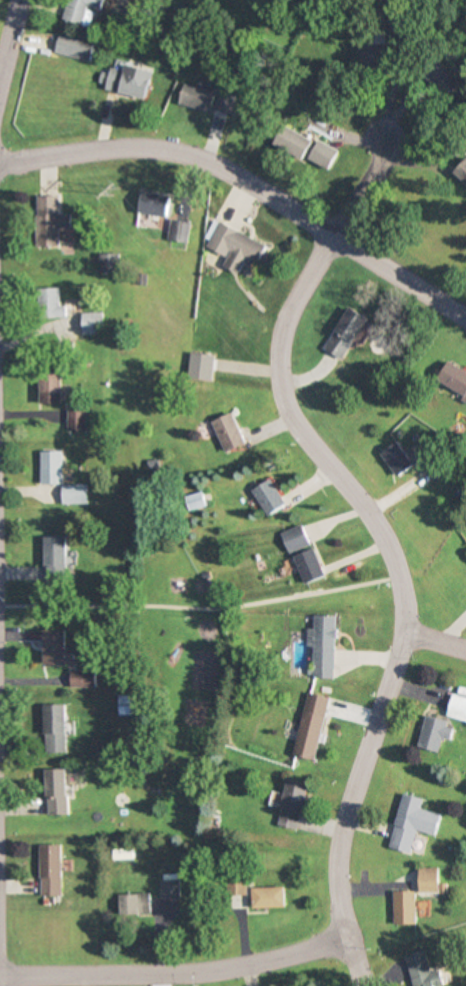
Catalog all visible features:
building: (82, 10)
road: (9, 35)
building: (74, 47)
building: (381, 55)
building: (129, 81)
building: (453, 83)
building: (209, 99)
building: (297, 143)
road: (176, 152)
building: (326, 156)
road: (358, 186)
power tower: (114, 190)
building: (156, 205)
building: (49, 221)
building: (179, 232)
building: (237, 248)
building: (110, 263)
road: (399, 277)
building: (54, 311)
building: (91, 323)
building: (345, 333)
building: (454, 379)
building: (48, 389)
building: (73, 420)
building: (231, 432)
building: (396, 459)
building: (58, 478)
building: (270, 497)
building: (195, 501)
building: (296, 539)
building: (52, 559)
building: (311, 566)
road: (400, 591)
road: (198, 605)
park: (184, 625)
road: (434, 642)
building: (322, 645)
building: (54, 646)
building: (81, 677)
building: (457, 703)
building: (128, 704)
building: (310, 725)
building: (55, 728)
building: (429, 733)
building: (57, 792)
building: (292, 804)
building: (410, 822)
building: (50, 870)
building: (428, 880)
building: (168, 888)
building: (266, 897)
building: (134, 904)
building: (402, 908)
building: (419, 970)
road: (173, 973)

